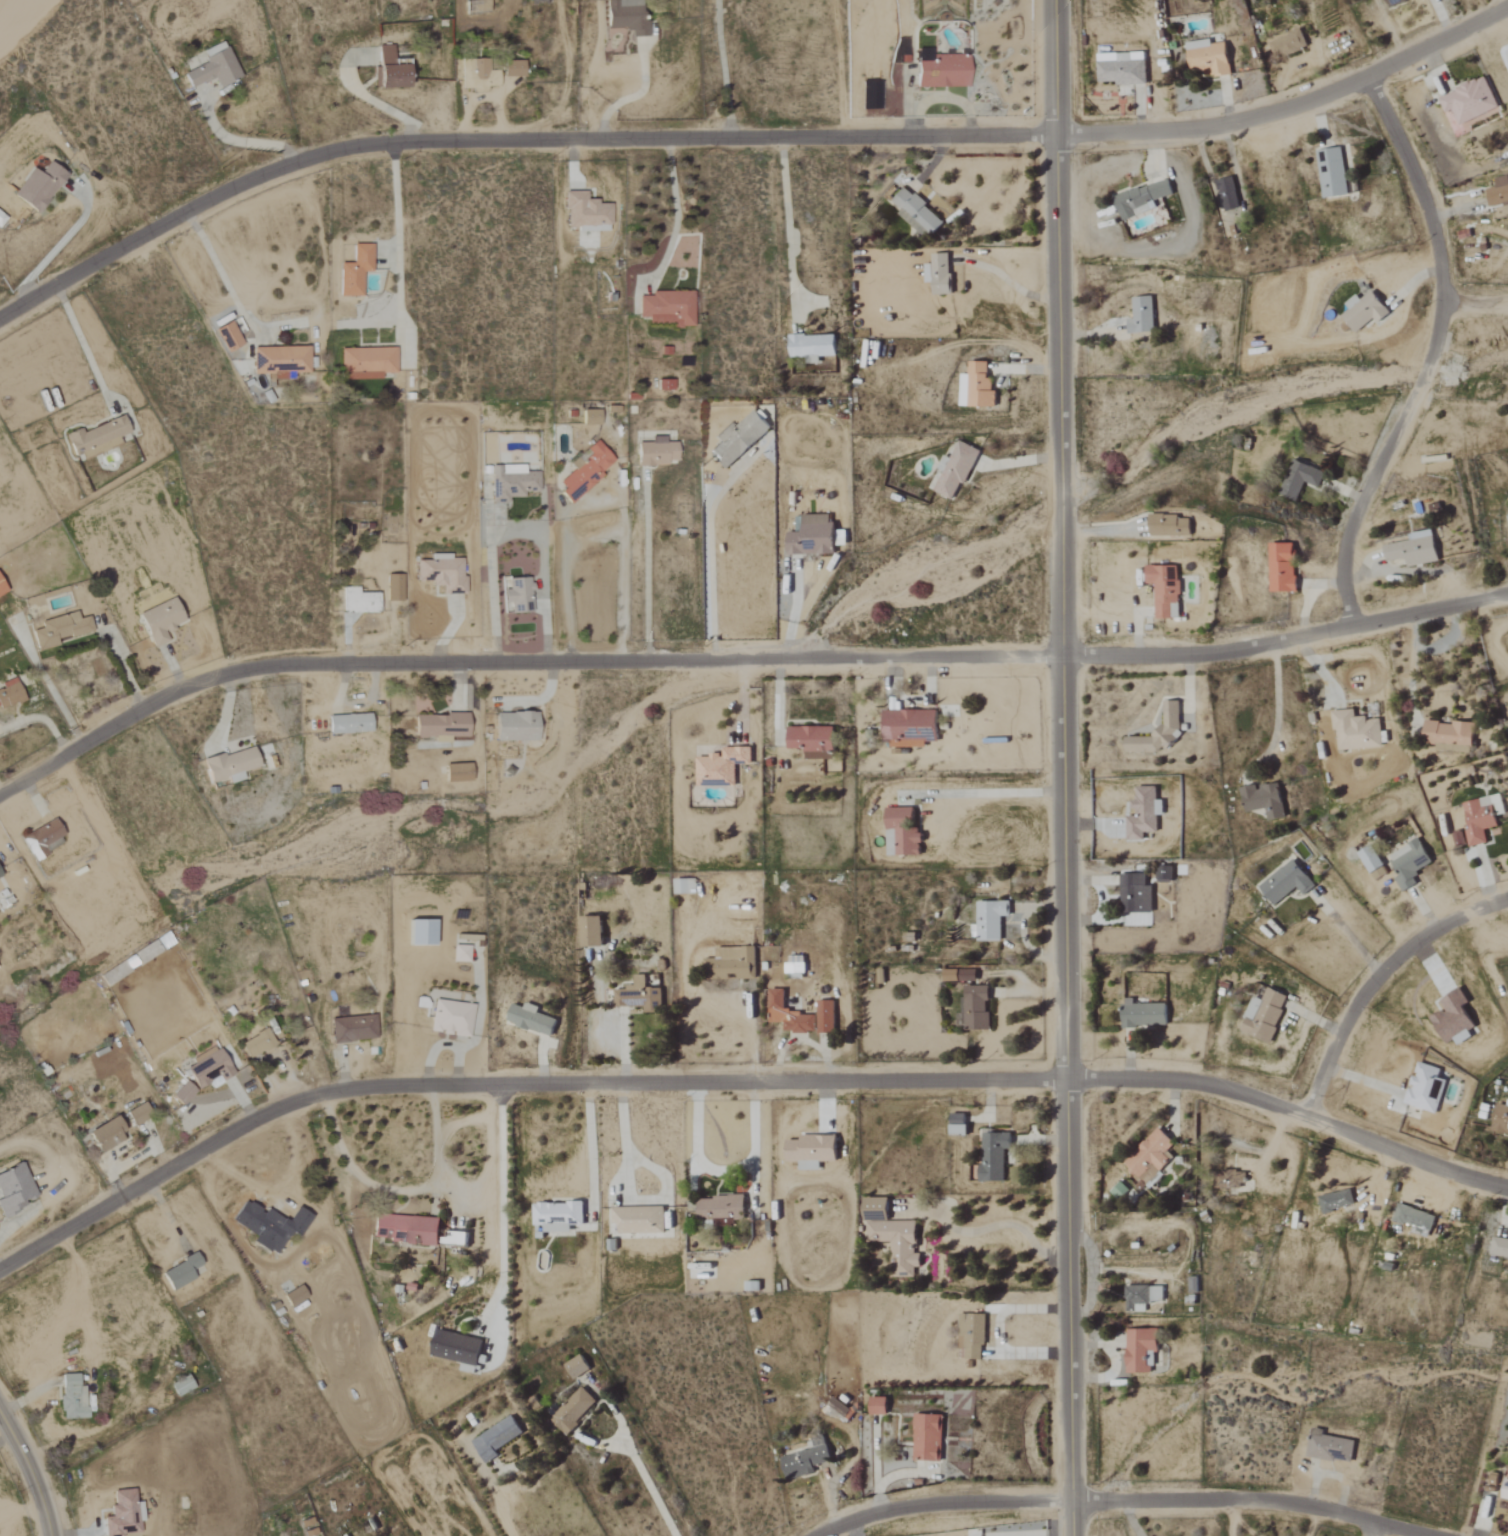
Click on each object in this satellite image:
building: (537, 1)
building: (1392, 2)
building: (477, 6)
building: (627, 17)
building: (1287, 45)
building: (1208, 57)
building: (214, 68)
building: (513, 69)
road: (722, 69)
building: (1121, 69)
building: (390, 70)
building: (943, 72)
building: (476, 75)
building: (871, 95)
road: (632, 96)
building: (1470, 101)
road: (382, 106)
road: (745, 139)
road: (248, 142)
building: (1332, 173)
building: (38, 187)
building: (1498, 191)
building: (1227, 195)
building: (1141, 200)
building: (586, 213)
building: (916, 214)
road: (675, 217)
road: (787, 226)
road: (397, 244)
road: (54, 248)
road: (1058, 253)
road: (215, 263)
building: (355, 271)
road: (1006, 280)
road: (1474, 306)
building: (667, 309)
building: (1364, 312)
building: (1141, 316)
building: (229, 337)
road: (81, 346)
building: (812, 348)
road: (1432, 354)
building: (280, 362)
building: (366, 363)
building: (664, 386)
building: (976, 388)
building: (590, 417)
building: (96, 439)
building: (739, 439)
building: (656, 453)
building: (957, 470)
building: (586, 472)
building: (1300, 480)
building: (511, 483)
road: (1062, 517)
building: (1170, 526)
road: (515, 534)
road: (600, 535)
building: (812, 538)
building: (841, 539)
road: (707, 542)
building: (1414, 550)
building: (1282, 568)
building: (442, 573)
building: (1, 589)
building: (393, 589)
building: (1165, 591)
building: (518, 596)
building: (359, 602)
building: (160, 620)
building: (58, 630)
road: (1416, 632)
road: (1420, 654)
road: (742, 663)
building: (9, 693)
road: (1275, 702)
road: (38, 718)
building: (1169, 719)
building: (349, 723)
building: (440, 726)
building: (515, 726)
building: (909, 728)
building: (1357, 731)
building: (1450, 735)
building: (810, 738)
building: (230, 765)
building: (721, 767)
building: (457, 773)
road: (986, 792)
building: (1265, 800)
building: (1144, 813)
building: (1482, 818)
building: (902, 833)
building: (1458, 838)
building: (42, 840)
building: (1409, 863)
building: (1164, 874)
building: (0, 877)
building: (1287, 882)
building: (685, 886)
building: (1135, 894)
building: (991, 919)
building: (591, 931)
building: (460, 953)
building: (734, 965)
building: (796, 966)
building: (969, 976)
road: (1376, 980)
building: (638, 996)
building: (977, 1008)
building: (1143, 1014)
building: (790, 1015)
building: (1264, 1015)
building: (827, 1017)
building: (450, 1018)
building: (531, 1019)
building: (1455, 1019)
building: (353, 1029)
road: (1070, 1031)
building: (257, 1043)
building: (208, 1069)
road: (740, 1084)
building: (1424, 1086)
building: (183, 1093)
building: (137, 1114)
building: (1501, 1117)
building: (958, 1124)
building: (106, 1134)
road: (589, 1138)
road: (625, 1139)
building: (812, 1151)
building: (995, 1156)
building: (1151, 1159)
road: (723, 1171)
building: (1233, 1180)
building: (15, 1189)
road: (400, 1190)
building: (1119, 1191)
building: (1337, 1201)
road: (501, 1205)
building: (720, 1209)
building: (557, 1216)
building: (1413, 1218)
building: (640, 1220)
road: (991, 1226)
building: (407, 1229)
building: (263, 1231)
building: (894, 1237)
building: (1499, 1245)
building: (181, 1272)
building: (294, 1296)
building: (1141, 1297)
building: (971, 1335)
building: (456, 1348)
building: (1141, 1350)
building: (577, 1367)
building: (181, 1386)
building: (72, 1398)
building: (878, 1406)
building: (838, 1409)
building: (573, 1411)
building: (929, 1438)
building: (496, 1439)
building: (1330, 1447)
building: (806, 1462)
road: (30, 1474)
road: (648, 1487)
building: (1505, 1493)
road: (493, 1500)
road: (1120, 1502)
building: (123, 1515)
road: (1374, 1530)

